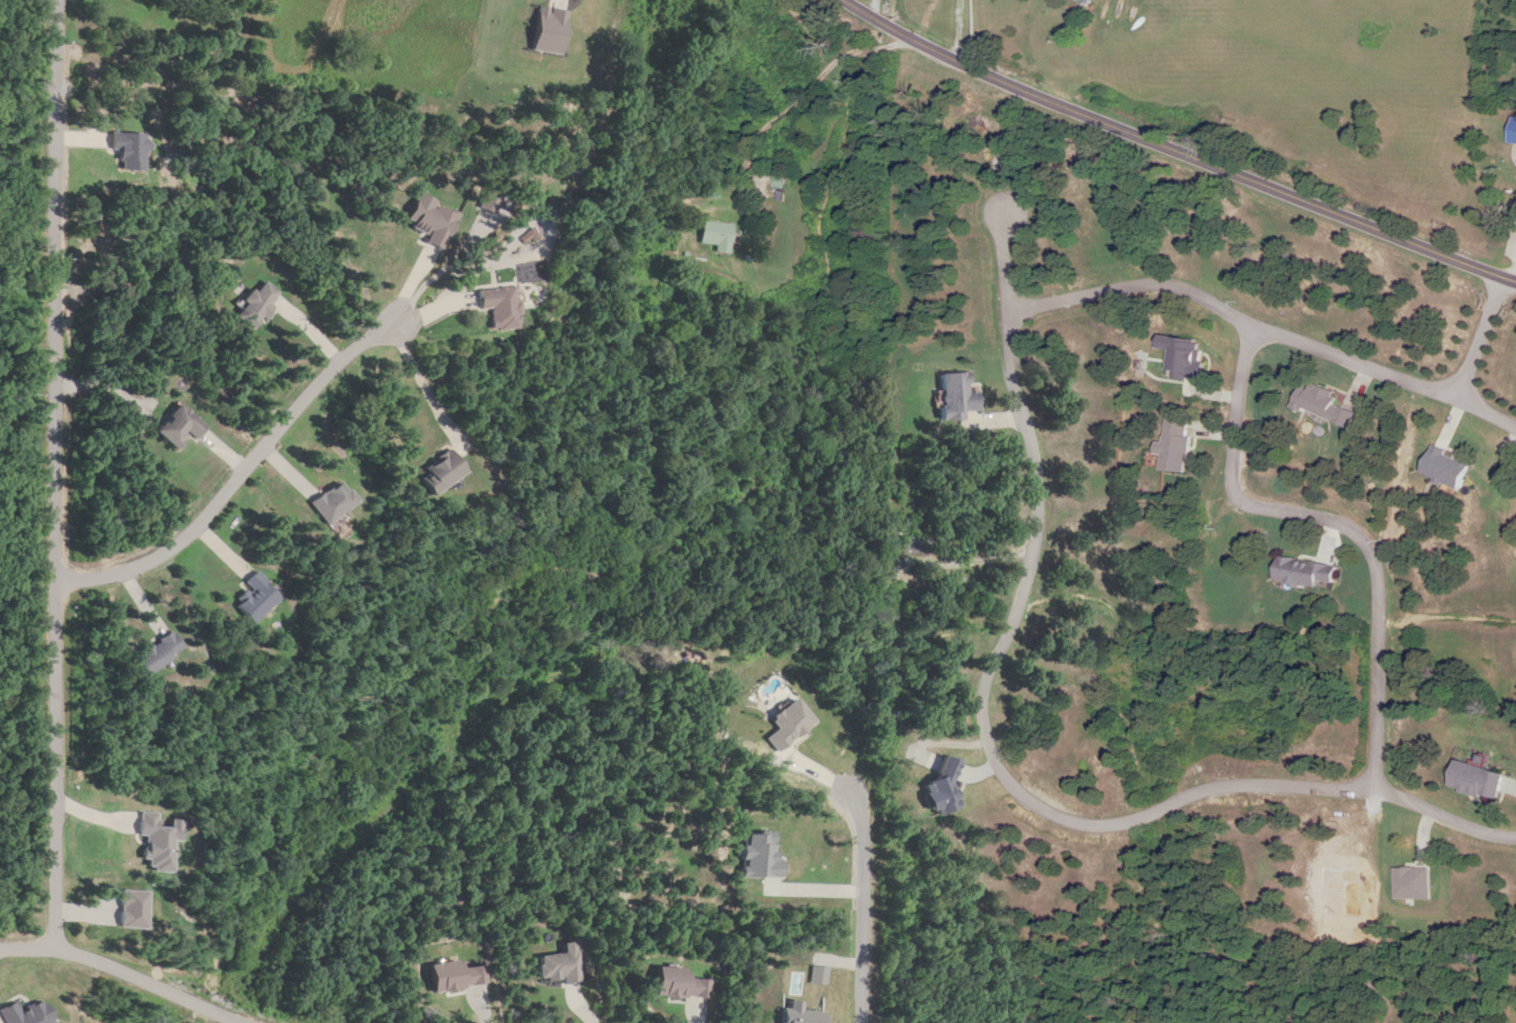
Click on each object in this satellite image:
road: (980, 39)
building: (1514, 134)
road: (1173, 151)
building: (778, 182)
building: (717, 236)
building: (500, 307)
road: (1235, 309)
road: (1486, 337)
building: (1186, 356)
building: (957, 396)
building: (1328, 405)
road: (1489, 412)
building: (180, 426)
building: (1175, 444)
building: (1450, 467)
building: (443, 472)
road: (236, 474)
road: (53, 476)
building: (334, 502)
road: (1329, 522)
building: (1307, 571)
building: (159, 653)
road: (993, 760)
building: (1485, 779)
road: (860, 904)
road: (122, 977)

